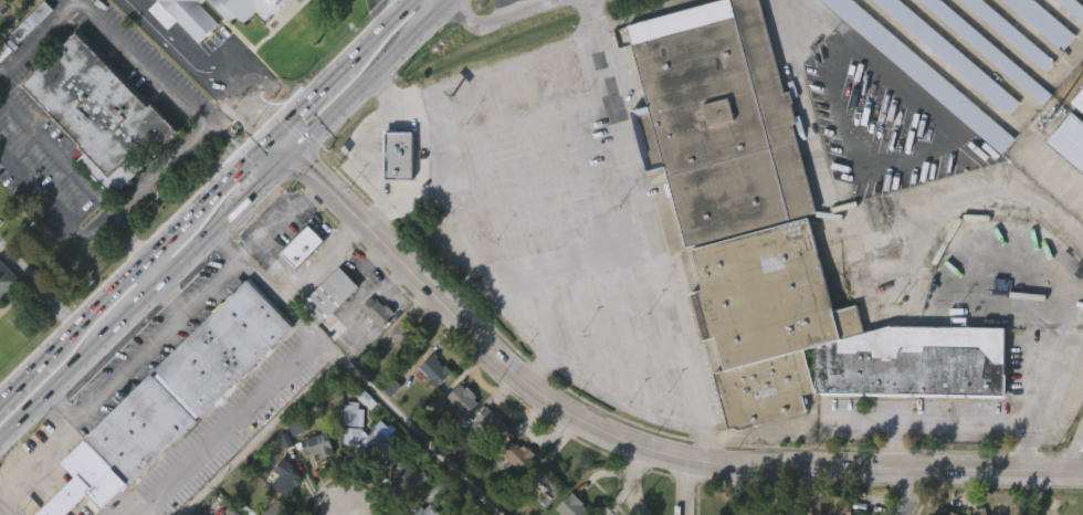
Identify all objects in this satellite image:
building: (1, 1)
road: (559, 2)
building: (254, 7)
building: (1074, 7)
road: (385, 12)
building: (1066, 12)
building: (187, 15)
road: (506, 19)
building: (1045, 21)
road: (104, 22)
building: (1013, 33)
building: (0, 36)
building: (991, 50)
building: (951, 53)
building: (980, 53)
building: (23, 69)
building: (959, 70)
road: (212, 73)
building: (925, 73)
building: (1080, 101)
building: (907, 105)
road: (407, 107)
building: (106, 115)
traffic signals: (275, 133)
road: (231, 137)
building: (1071, 139)
road: (813, 146)
building: (95, 153)
traffic signals: (297, 154)
building: (399, 154)
road: (454, 168)
building: (1066, 183)
road: (103, 196)
building: (393, 196)
road: (1006, 199)
road: (206, 200)
road: (412, 206)
road: (54, 207)
road: (228, 221)
road: (655, 231)
building: (774, 231)
road: (126, 240)
building: (304, 246)
road: (13, 261)
road: (156, 271)
building: (9, 281)
building: (866, 281)
building: (297, 287)
road: (277, 294)
building: (332, 294)
road: (177, 295)
road: (52, 299)
building: (378, 312)
building: (6, 320)
building: (326, 334)
building: (406, 337)
building: (371, 351)
road: (336, 358)
building: (431, 369)
building: (397, 374)
road: (115, 379)
road: (1065, 389)
road: (616, 398)
building: (171, 399)
building: (459, 400)
road: (549, 402)
road: (59, 410)
building: (428, 411)
building: (493, 423)
road: (224, 424)
road: (893, 428)
building: (458, 440)
building: (322, 442)
building: (374, 445)
building: (347, 454)
building: (518, 454)
road: (1080, 460)
building: (486, 463)
road: (1000, 470)
road: (1080, 470)
building: (292, 475)
building: (365, 479)
building: (409, 479)
building: (551, 479)
road: (633, 480)
building: (313, 485)
road: (686, 486)
road: (771, 491)
road: (913, 492)
building: (514, 495)
building: (837, 504)
building: (574, 506)
building: (282, 509)
building: (398, 509)
building: (423, 509)
building: (950, 512)
road: (133, 514)

